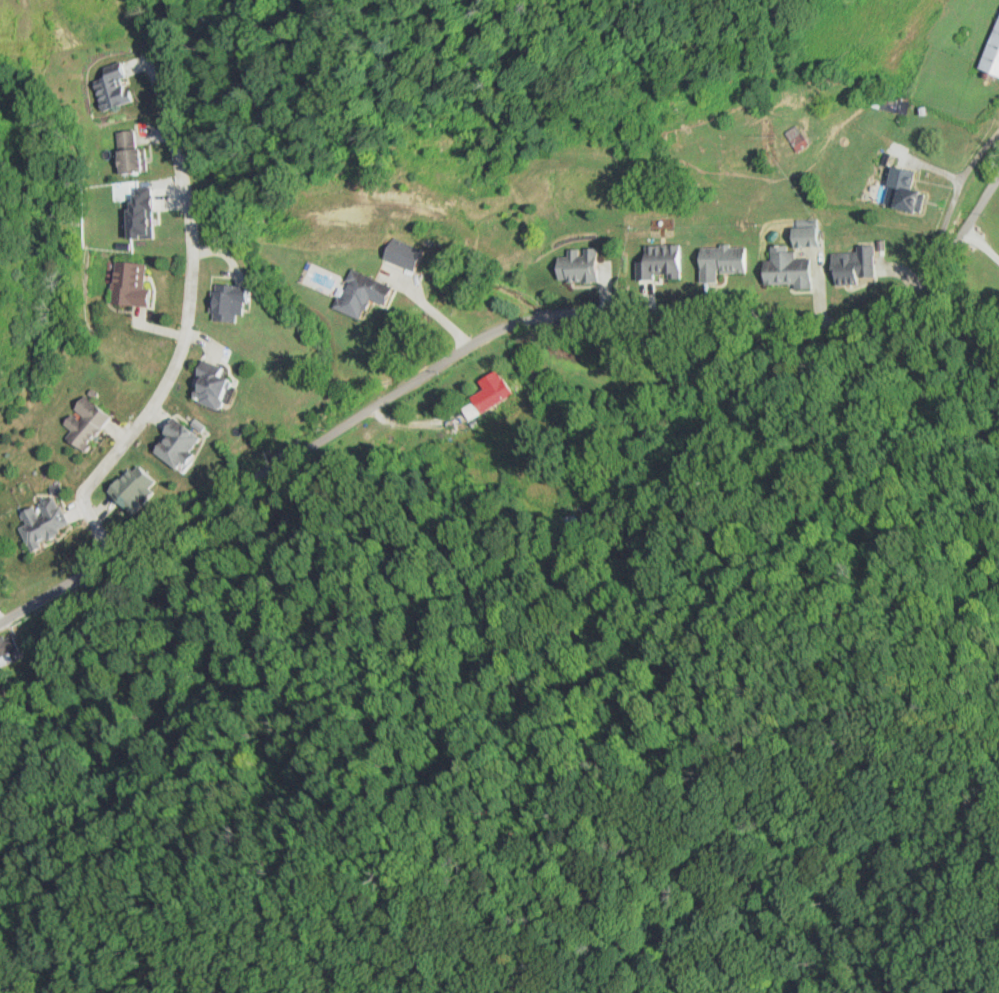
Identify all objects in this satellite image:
building: (85, 16)
building: (992, 51)
building: (112, 85)
building: (128, 152)
building: (903, 188)
building: (803, 236)
building: (660, 261)
building: (721, 261)
building: (852, 265)
building: (577, 266)
building: (787, 270)
building: (127, 284)
building: (359, 293)
road: (548, 313)
road: (812, 316)
building: (206, 381)
road: (404, 384)
building: (488, 394)
building: (83, 422)
building: (173, 443)
road: (271, 464)
building: (129, 485)
building: (42, 522)
road: (132, 541)
building: (11, 648)

